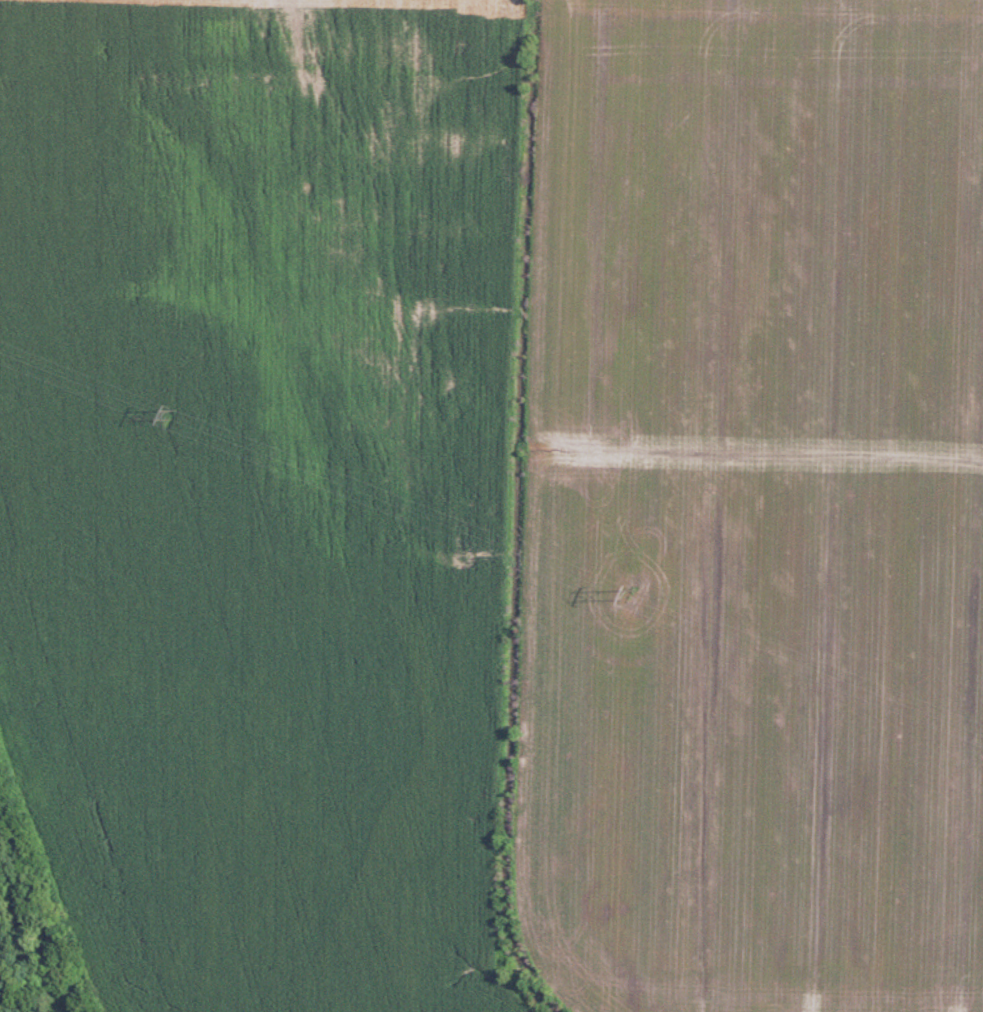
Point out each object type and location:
power tower: (181, 412)
power tower: (618, 603)

